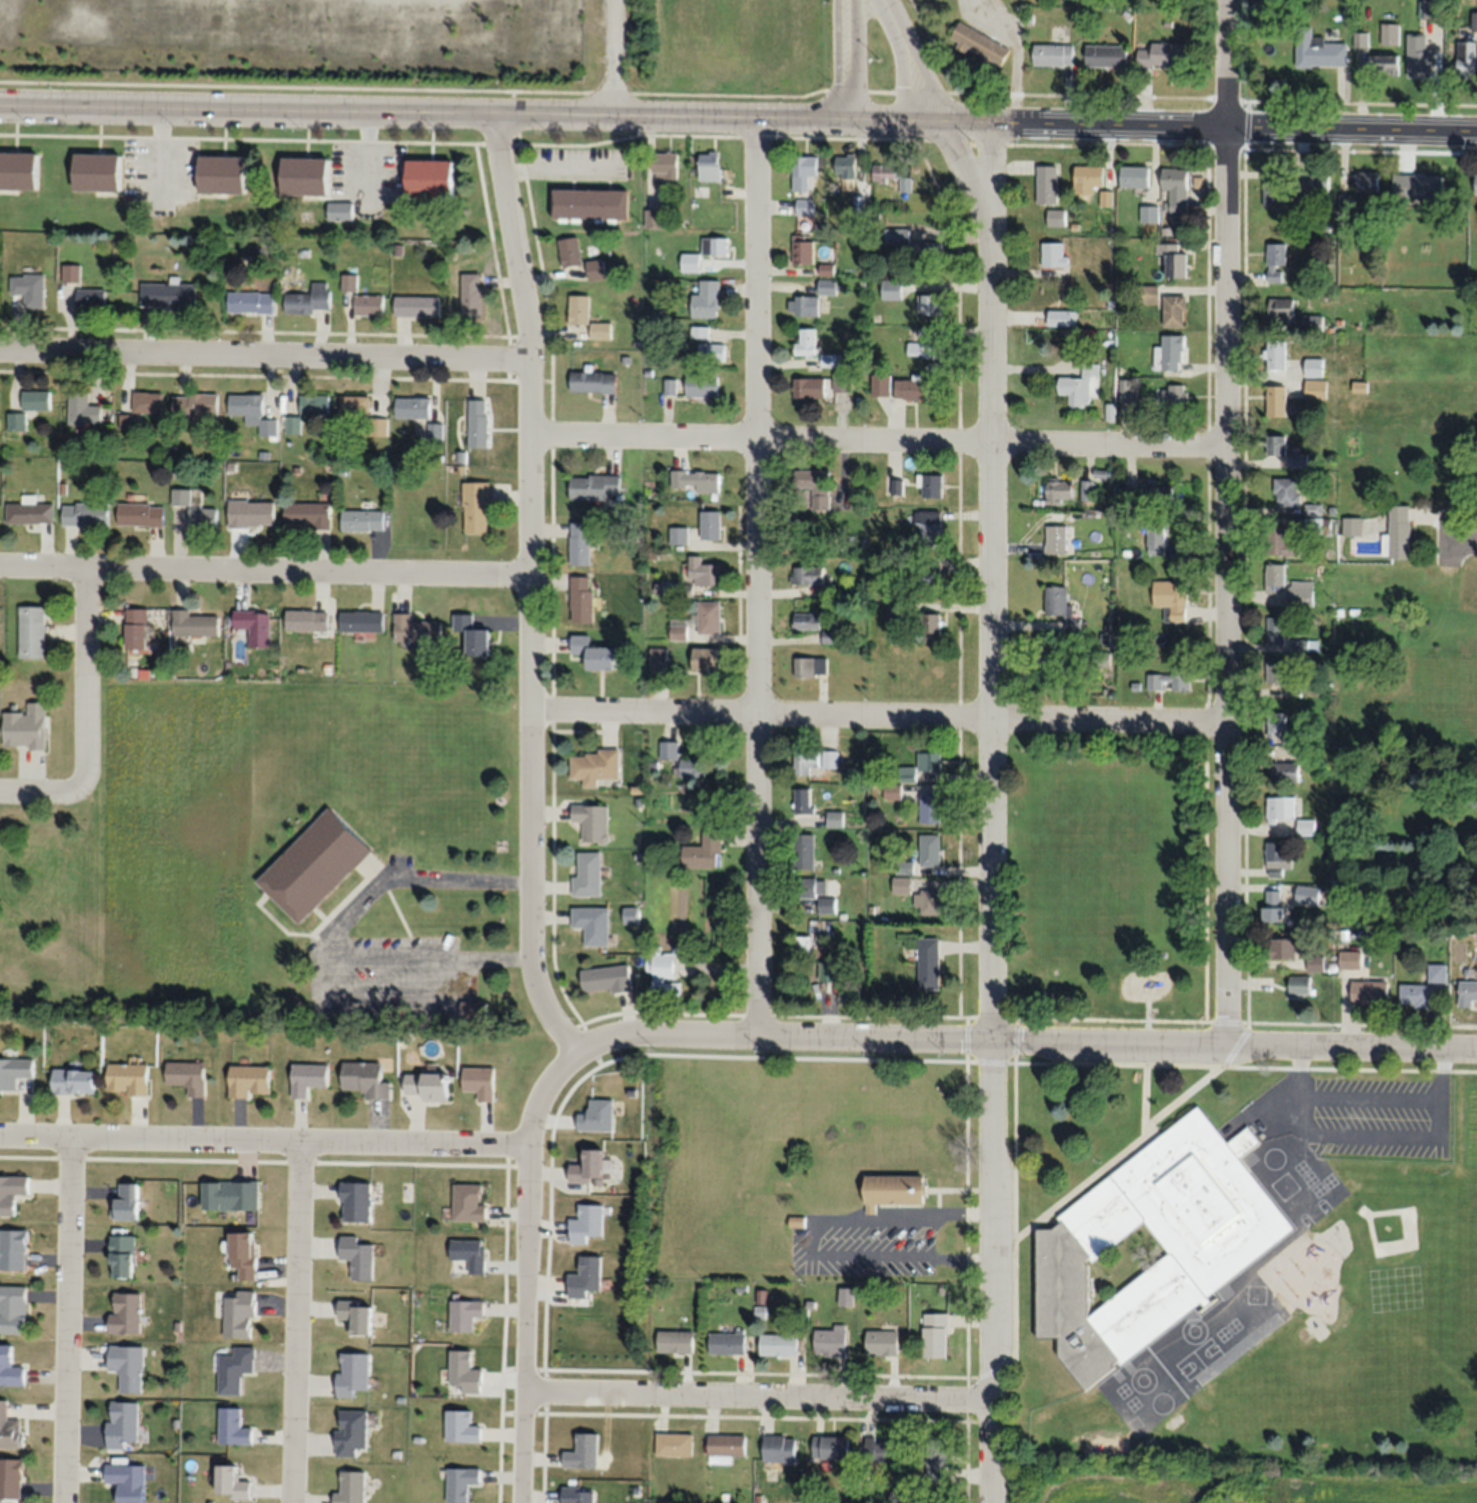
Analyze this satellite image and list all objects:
building: (1474, 21)
building: (1390, 33)
building: (980, 45)
building: (1320, 52)
building: (1053, 54)
building: (1163, 54)
building: (1106, 55)
building: (1419, 55)
road: (614, 56)
road: (846, 58)
building: (1466, 58)
building: (1383, 63)
road: (1226, 64)
road: (422, 109)
road: (937, 114)
road: (1035, 123)
road: (1351, 131)
building: (709, 165)
building: (845, 165)
building: (664, 166)
road: (560, 168)
building: (19, 170)
building: (803, 171)
building: (98, 172)
building: (224, 174)
building: (306, 175)
building: (891, 176)
building: (1135, 176)
building: (431, 178)
building: (1088, 178)
building: (1367, 181)
building: (1316, 182)
building: (1475, 183)
building: (1047, 184)
building: (1417, 186)
building: (1175, 191)
building: (1273, 191)
building: (589, 204)
building: (804, 207)
building: (341, 211)
building: (1149, 214)
building: (1055, 217)
building: (654, 218)
building: (897, 235)
building: (714, 246)
building: (802, 250)
building: (570, 251)
building: (929, 253)
building: (1054, 254)
building: (1174, 260)
building: (689, 261)
building: (1276, 261)
building: (595, 269)
building: (826, 269)
building: (72, 273)
building: (350, 282)
building: (827, 286)
building: (30, 289)
building: (891, 289)
building: (169, 295)
building: (474, 296)
building: (92, 300)
building: (309, 300)
building: (706, 300)
building: (251, 303)
building: (928, 304)
building: (370, 305)
building: (803, 305)
building: (417, 306)
building: (1281, 308)
building: (1174, 310)
building: (587, 317)
building: (1062, 318)
building: (1312, 322)
building: (805, 341)
building: (925, 343)
building: (1170, 353)
building: (711, 354)
building: (1276, 354)
building: (830, 360)
road: (265, 361)
building: (1314, 367)
building: (594, 382)
building: (842, 382)
building: (880, 385)
building: (701, 386)
building: (1078, 386)
building: (670, 387)
building: (808, 387)
building: (914, 389)
building: (1316, 389)
building: (1128, 390)
building: (1173, 396)
building: (1276, 401)
building: (148, 403)
building: (195, 405)
building: (316, 406)
building: (355, 406)
building: (413, 407)
building: (84, 411)
building: (253, 412)
building: (478, 423)
building: (1276, 444)
road: (878, 446)
building: (1298, 460)
building: (695, 480)
building: (932, 485)
building: (599, 486)
building: (815, 487)
building: (1086, 489)
building: (1059, 491)
building: (1288, 491)
building: (1158, 494)
building: (476, 507)
building: (30, 514)
building: (86, 515)
building: (141, 515)
building: (252, 515)
building: (308, 515)
building: (203, 517)
building: (363, 520)
building: (710, 524)
building: (928, 526)
building: (1353, 526)
building: (1398, 533)
building: (679, 535)
building: (1155, 538)
building: (1056, 539)
road: (1446, 539)
road: (1462, 539)
building: (1282, 541)
building: (580, 543)
building: (703, 572)
building: (929, 573)
road: (757, 574)
building: (807, 575)
road: (265, 576)
building: (1276, 576)
road: (531, 585)
road: (1226, 585)
building: (1300, 593)
building: (582, 599)
building: (1171, 599)
building: (1061, 606)
building: (895, 610)
building: (308, 620)
building: (806, 620)
building: (362, 621)
building: (698, 621)
building: (195, 625)
building: (256, 627)
building: (931, 627)
building: (137, 629)
building: (416, 629)
building: (1276, 630)
building: (33, 632)
building: (1305, 645)
building: (593, 652)
building: (659, 659)
building: (706, 659)
building: (811, 665)
building: (1276, 672)
building: (1169, 680)
road: (879, 720)
road: (86, 723)
building: (1276, 724)
building: (26, 727)
building: (829, 759)
building: (929, 760)
building: (682, 761)
building: (806, 761)
building: (596, 766)
building: (1285, 771)
building: (893, 791)
building: (804, 801)
building: (930, 807)
building: (1281, 808)
road: (991, 812)
building: (835, 818)
building: (593, 822)
building: (1306, 826)
building: (930, 850)
building: (806, 851)
building: (704, 852)
building: (1278, 858)
building: (315, 866)
park: (1108, 873)
building: (587, 874)
road: (461, 881)
building: (818, 894)
building: (1308, 895)
building: (930, 902)
building: (1274, 906)
road: (348, 910)
building: (593, 924)
building: (1282, 948)
road: (433, 957)
building: (1351, 959)
building: (929, 965)
building: (828, 972)
building: (1437, 972)
building: (663, 975)
building: (607, 978)
road: (1206, 980)
building: (1301, 984)
building: (1370, 992)
building: (849, 993)
building: (1467, 993)
building: (1415, 995)
road: (665, 1030)
road: (1116, 1040)
road: (1087, 1062)
road: (1301, 1069)
building: (15, 1072)
road: (1444, 1072)
building: (188, 1076)
building: (309, 1078)
building: (128, 1079)
building: (366, 1079)
building: (75, 1081)
building: (250, 1081)
building: (479, 1082)
building: (428, 1086)
road: (1183, 1094)
building: (597, 1115)
parking lot: (1351, 1115)
road: (1436, 1136)
road: (264, 1138)
road: (1107, 1163)
building: (588, 1167)
building: (893, 1190)
building: (12, 1193)
building: (231, 1195)
building: (356, 1201)
building: (127, 1202)
building: (469, 1202)
building: (586, 1223)
building: (1152, 1245)
building: (14, 1249)
building: (244, 1254)
building: (470, 1254)
building: (123, 1256)
building: (358, 1257)
road: (528, 1268)
building: (585, 1277)
building: (847, 1298)
building: (14, 1309)
building: (126, 1313)
building: (241, 1314)
building: (466, 1314)
building: (357, 1315)
building: (1227, 1317)
road: (67, 1319)
road: (293, 1321)
building: (937, 1334)
building: (675, 1341)
building: (831, 1342)
building: (727, 1343)
building: (882, 1343)
building: (779, 1344)
building: (129, 1366)
building: (10, 1368)
building: (236, 1369)
building: (465, 1372)
building: (353, 1373)
road: (800, 1374)
road: (760, 1395)
road: (754, 1416)
building: (123, 1424)
building: (462, 1426)
building: (235, 1427)
building: (10, 1428)
building: (352, 1431)
building: (675, 1444)
building: (831, 1447)
building: (726, 1448)
building: (780, 1448)
building: (882, 1450)
building: (584, 1452)
building: (938, 1462)
building: (12, 1479)
building: (128, 1482)
building: (234, 1483)
building: (463, 1483)
crop: (1237, 1485)
building: (351, 1487)
building: (580, 1494)

